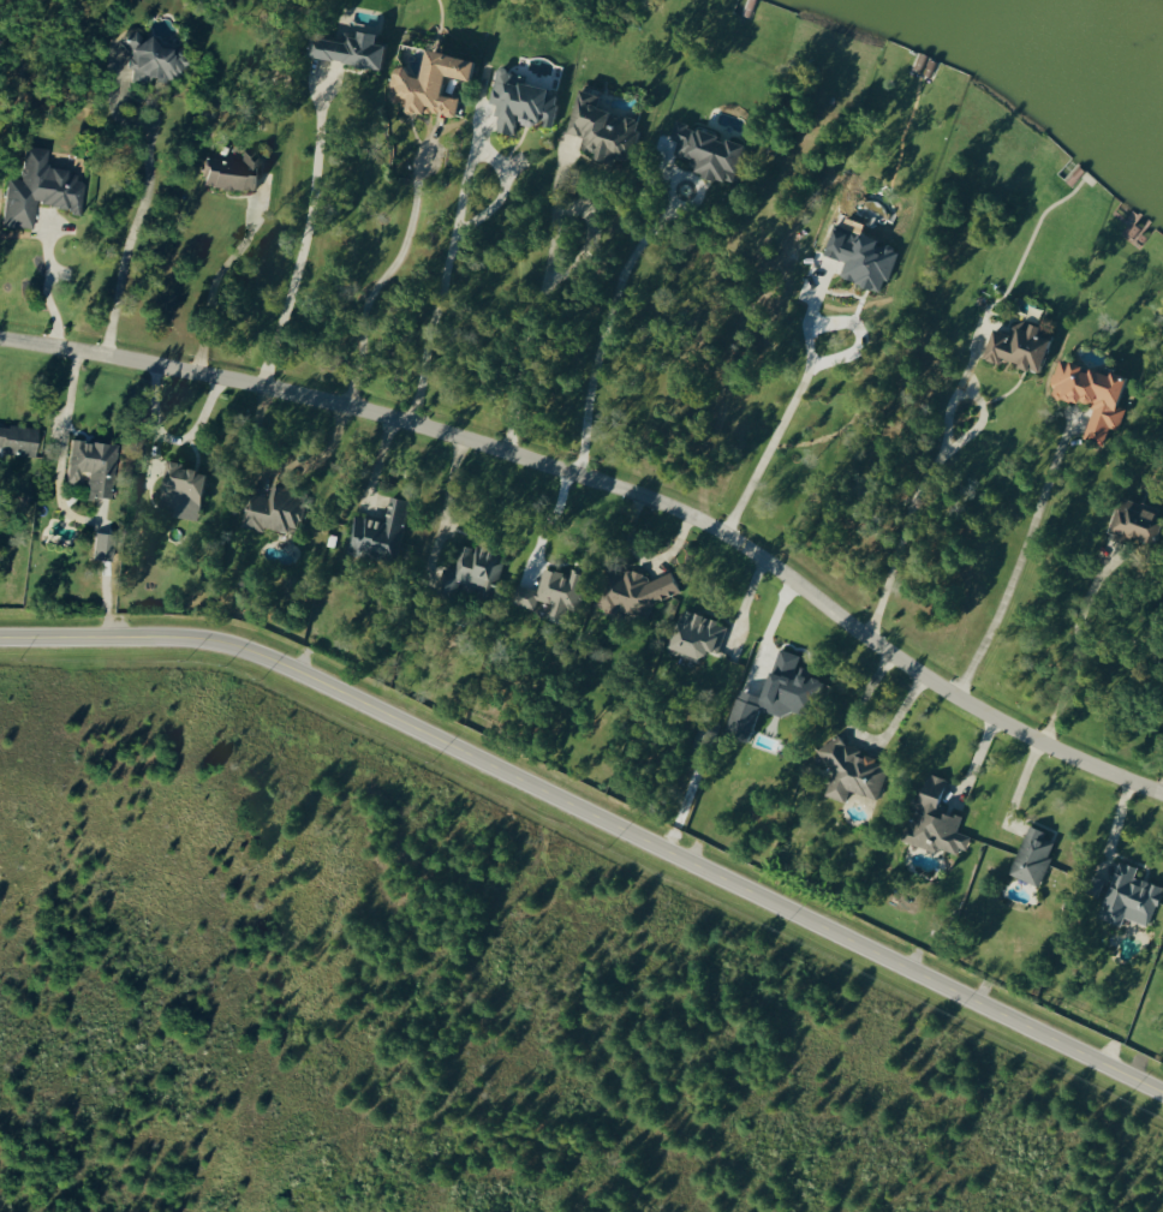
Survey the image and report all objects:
building: (346, 49)
building: (151, 60)
building: (427, 83)
building: (519, 101)
building: (600, 127)
building: (705, 151)
building: (229, 171)
road: (145, 184)
building: (36, 190)
road: (300, 245)
building: (860, 258)
road: (386, 271)
road: (449, 275)
road: (542, 275)
road: (43, 286)
road: (221, 288)
road: (603, 321)
building: (1016, 346)
building: (1089, 395)
road: (786, 408)
building: (17, 440)
building: (90, 466)
road: (279, 467)
road: (916, 486)
road: (614, 488)
building: (179, 490)
building: (274, 512)
building: (1132, 520)
building: (378, 532)
road: (1015, 560)
building: (472, 569)
building: (550, 591)
building: (633, 592)
building: (694, 635)
road: (1072, 653)
building: (770, 695)
road: (973, 760)
building: (851, 770)
building: (932, 819)
road: (594, 822)
building: (1031, 855)
building: (1128, 895)

